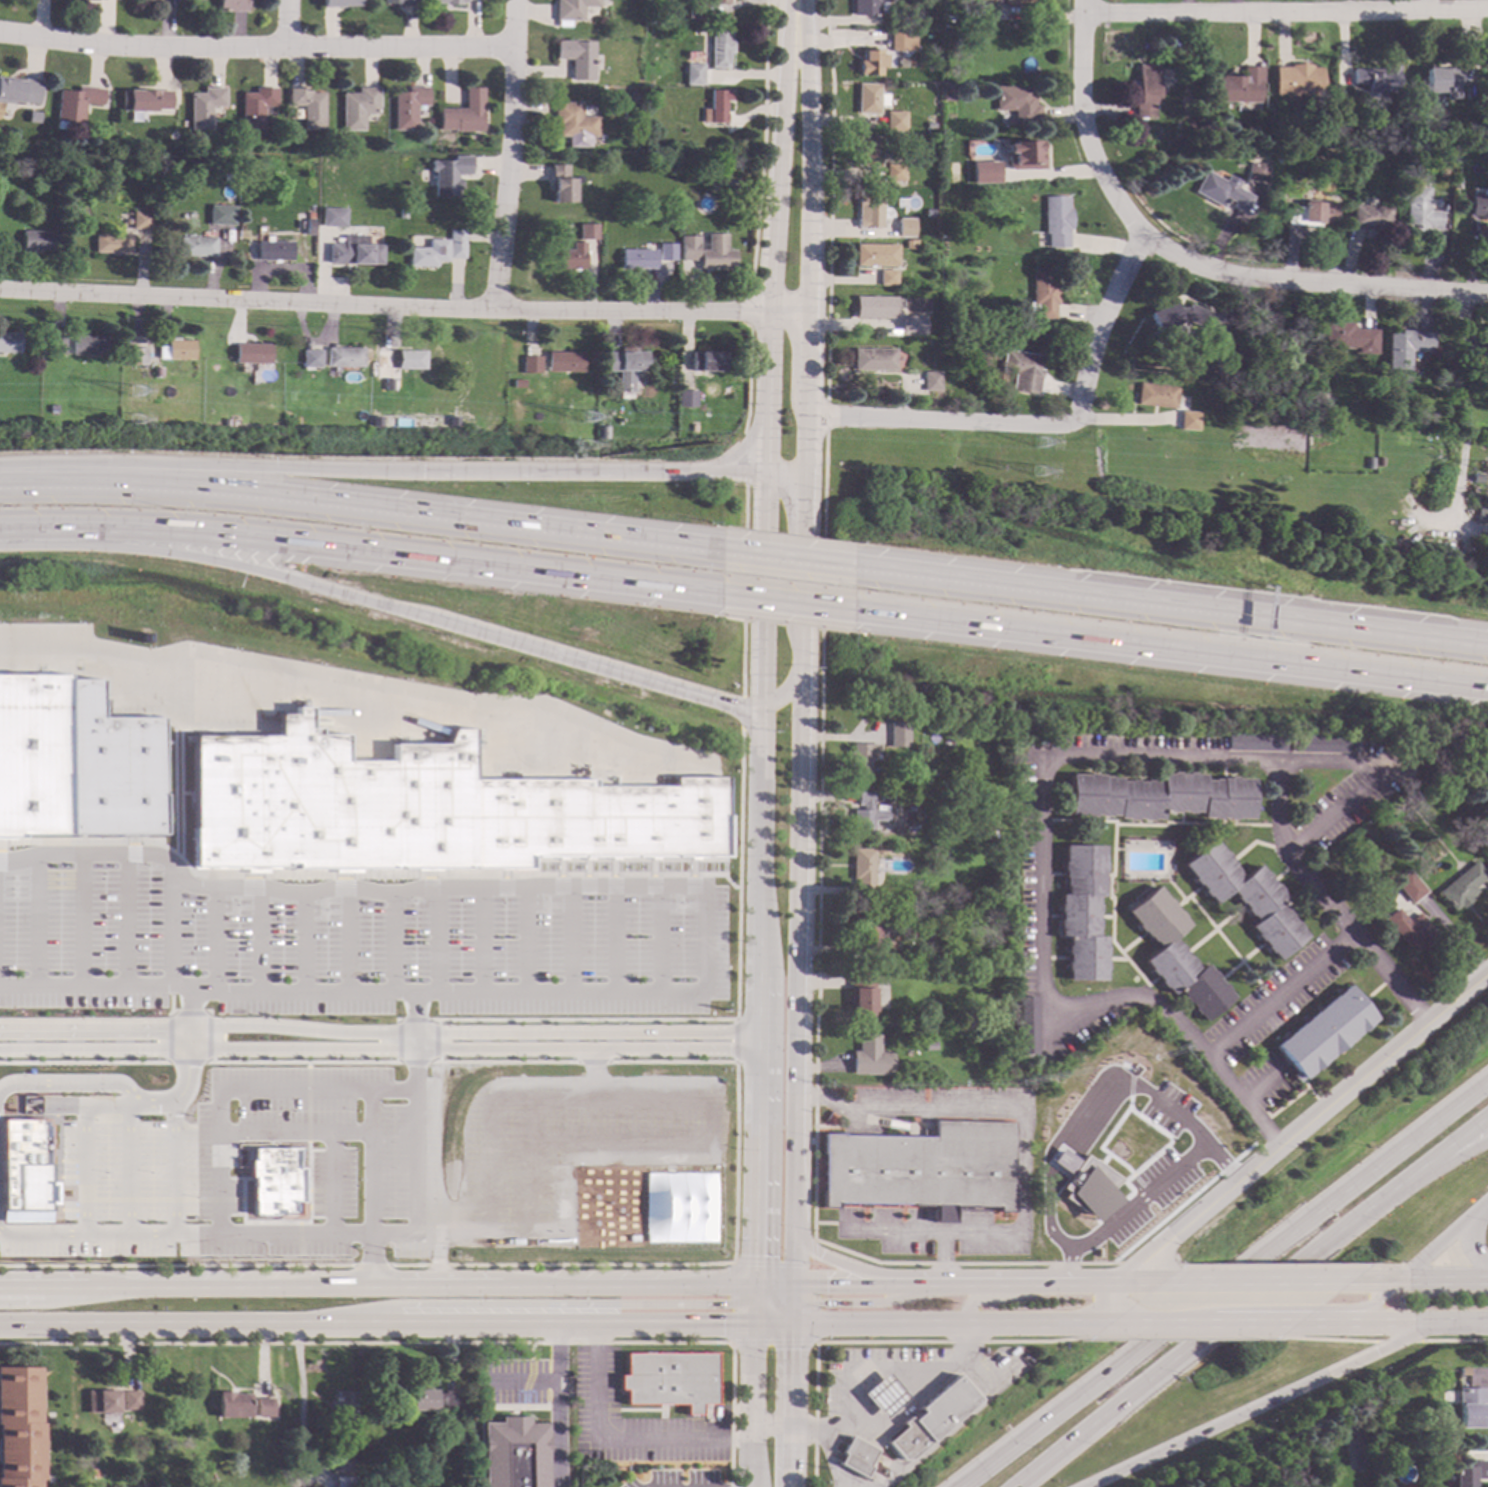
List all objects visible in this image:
building: (92, 0)
building: (147, 1)
building: (1012, 1)
building: (447, 2)
building: (720, 2)
building: (339, 3)
building: (400, 3)
building: (230, 6)
building: (869, 7)
building: (573, 9)
building: (696, 12)
road: (1285, 13)
building: (678, 14)
road: (285, 23)
building: (902, 41)
road: (253, 47)
building: (720, 48)
building: (577, 59)
building: (871, 62)
building: (693, 75)
building: (1376, 79)
building: (1296, 80)
building: (1443, 81)
building: (1237, 86)
building: (1147, 90)
building: (948, 91)
building: (18, 92)
building: (870, 98)
building: (634, 99)
building: (144, 101)
building: (1017, 103)
building: (75, 104)
building: (202, 108)
building: (254, 108)
building: (307, 108)
building: (357, 108)
building: (406, 108)
building: (716, 108)
building: (462, 115)
building: (32, 118)
building: (895, 120)
building: (574, 125)
road: (1084, 126)
building: (1189, 126)
building: (1415, 133)
building: (630, 138)
road: (761, 147)
building: (864, 151)
road: (508, 154)
building: (1356, 154)
building: (1023, 155)
building: (1432, 159)
building: (77, 166)
building: (1257, 171)
building: (166, 172)
building: (893, 172)
building: (984, 172)
building: (448, 175)
building: (560, 184)
building: (1223, 190)
building: (948, 196)
building: (320, 202)
building: (1478, 205)
building: (1420, 209)
building: (869, 211)
building: (929, 212)
building: (1313, 213)
building: (401, 214)
building: (1371, 214)
building: (221, 215)
building: (333, 219)
building: (1057, 220)
building: (141, 221)
building: (905, 227)
building: (309, 228)
building: (588, 233)
road: (772, 235)
building: (39, 242)
building: (908, 243)
building: (112, 244)
building: (456, 245)
building: (196, 248)
building: (274, 252)
building: (707, 252)
building: (354, 253)
building: (666, 253)
building: (875, 254)
building: (428, 255)
building: (572, 258)
building: (637, 260)
building: (886, 277)
road: (1310, 285)
building: (1042, 294)
road: (403, 305)
building: (874, 307)
road: (748, 311)
building: (1174, 315)
building: (911, 324)
road: (1097, 328)
building: (1350, 337)
building: (9, 344)
building: (57, 346)
building: (88, 347)
building: (1406, 347)
building: (179, 350)
building: (1474, 352)
building: (252, 354)
building: (1223, 356)
building: (137, 357)
building: (345, 359)
building: (874, 359)
building: (312, 360)
building: (407, 360)
building: (564, 363)
building: (707, 363)
building: (531, 365)
building: (1201, 368)
building: (626, 369)
building: (1022, 370)
building: (157, 373)
building: (208, 379)
road: (747, 380)
building: (931, 381)
building: (518, 384)
building: (389, 385)
building: (1308, 391)
building: (1157, 395)
building: (687, 400)
power tower: (137, 403)
building: (53, 410)
building: (1188, 416)
road: (940, 419)
power tower: (138, 428)
power tower: (589, 428)
building: (603, 433)
power tower: (1042, 450)
building: (1165, 453)
power tower: (588, 454)
road: (745, 458)
building: (1379, 461)
building: (1369, 462)
road: (381, 469)
traffic signals: (421, 471)
road: (783, 472)
power tower: (1038, 478)
road: (360, 504)
road: (359, 551)
road: (784, 559)
road: (223, 562)
road: (760, 591)
road: (783, 604)
road: (1169, 604)
road: (801, 611)
road: (1169, 651)
road: (599, 666)
traffic signals: (759, 679)
road: (357, 680)
road: (779, 696)
traffic signals: (730, 703)
road: (742, 712)
traffic signals: (799, 719)
building: (898, 734)
building: (1254, 742)
building: (1318, 743)
building: (34, 754)
building: (1461, 757)
building: (860, 760)
building: (111, 768)
building: (910, 775)
road: (1363, 779)
building: (1417, 794)
building: (1160, 796)
building: (243, 799)
building: (338, 803)
building: (432, 803)
building: (866, 811)
building: (595, 820)
building: (953, 835)
road: (757, 844)
building: (1487, 850)
building: (1487, 854)
road: (623, 859)
road: (653, 866)
road: (693, 866)
road: (146, 867)
road: (561, 867)
road: (587, 867)
road: (613, 867)
building: (862, 871)
road: (18, 873)
road: (738, 873)
road: (355, 874)
road: (729, 882)
road: (18, 884)
road: (13, 886)
road: (568, 886)
building: (1461, 886)
building: (1410, 889)
road: (548, 895)
road: (681, 895)
road: (235, 897)
building: (1246, 897)
road: (18, 900)
road: (325, 901)
road: (1323, 901)
road: (691, 905)
road: (557, 906)
road: (246, 908)
road: (334, 912)
road: (543, 912)
road: (677, 912)
road: (1042, 912)
building: (1082, 912)
road: (231, 914)
road: (36, 919)
road: (80, 919)
road: (124, 919)
road: (320, 919)
road: (169, 924)
building: (1409, 929)
building: (866, 931)
road: (615, 938)
road: (659, 938)
building: (911, 938)
road: (259, 939)
road: (348, 939)
road: (526, 939)
road: (570, 939)
road: (213, 940)
road: (437, 940)
road: (481, 940)
parking lot: (351, 941)
road: (303, 943)
road: (392, 943)
building: (1175, 955)
road: (85, 985)
road: (191, 988)
road: (313, 992)
building: (861, 993)
road: (1279, 997)
road: (170, 1001)
road: (190, 1008)
road: (173, 1013)
road: (189, 1013)
road: (207, 1013)
road: (398, 1020)
road: (415, 1020)
road: (582, 1020)
road: (435, 1022)
building: (1027, 1026)
building: (1323, 1031)
road: (380, 1034)
road: (208, 1037)
road: (188, 1038)
road: (169, 1040)
road: (735, 1040)
road: (398, 1041)
road: (435, 1041)
building: (930, 1045)
building: (965, 1046)
road: (381, 1048)
building: (869, 1056)
road: (208, 1060)
road: (435, 1060)
building: (1034, 1061)
road: (302, 1062)
road: (399, 1062)
road: (414, 1062)
road: (581, 1062)
road: (84, 1063)
road: (186, 1063)
road: (307, 1064)
road: (186, 1079)
road: (70, 1083)
road: (1486, 1083)
road: (243, 1089)
road: (307, 1104)
road: (114, 1105)
road: (1314, 1118)
road: (293, 1132)
road: (759, 1132)
road: (1019, 1145)
road: (1450, 1149)
road: (59, 1157)
road: (1450, 1160)
road: (71, 1161)
parking lot: (143, 1162)
road: (371, 1162)
road: (735, 1162)
building: (25, 1166)
building: (921, 1167)
road: (128, 1169)
building: (1152, 1169)
road: (71, 1177)
building: (275, 1182)
road: (332, 1183)
road: (414, 1188)
road: (320, 1190)
road: (67, 1200)
road: (158, 1200)
road: (320, 1207)
road: (72, 1210)
road: (303, 1222)
road: (826, 1223)
building: (1088, 1227)
road: (812, 1231)
road: (41, 1234)
road: (128, 1234)
road: (272, 1234)
road: (299, 1238)
road: (1444, 1239)
road: (1476, 1242)
road: (811, 1253)
road: (791, 1254)
traffic signals: (757, 1256)
road: (941, 1258)
road: (1062, 1258)
road: (772, 1263)
road: (366, 1265)
road: (846, 1265)
road: (437, 1272)
road: (1376, 1279)
road: (1444, 1279)
road: (1257, 1280)
road: (1142, 1281)
road: (1019, 1283)
road: (853, 1285)
road: (376, 1286)
road: (772, 1286)
traffic signals: (824, 1286)
road: (1224, 1287)
road: (1113, 1291)
road: (1007, 1294)
road: (753, 1295)
road: (771, 1295)
road: (789, 1295)
road: (71, 1298)
road: (732, 1302)
road: (866, 1302)
road: (813, 1303)
traffic signals: (825, 1303)
road: (526, 1304)
traffic signals: (722, 1304)
road: (768, 1308)
road: (1352, 1310)
road: (752, 1312)
road: (789, 1313)
road: (950, 1320)
road: (1161, 1320)
road: (1253, 1321)
traffic signals: (721, 1322)
road: (770, 1322)
road: (1392, 1322)
road: (527, 1324)
road: (151, 1325)
road: (1214, 1331)
road: (771, 1342)
traffic signals: (788, 1350)
building: (1462, 1371)
building: (669, 1378)
building: (883, 1394)
building: (129, 1398)
building: (434, 1398)
building: (101, 1401)
building: (232, 1404)
road: (749, 1404)
road: (787, 1404)
road: (1264, 1404)
building: (343, 1405)
road: (554, 1405)
building: (263, 1406)
building: (1470, 1407)
building: (930, 1418)
road: (885, 1422)
building: (19, 1427)
road: (617, 1437)
gas station: (907, 1440)
building: (515, 1452)
building: (855, 1456)
building: (345, 1464)
building: (91, 1473)
building: (1468, 1473)
building: (344, 1481)
road: (671, 1486)

